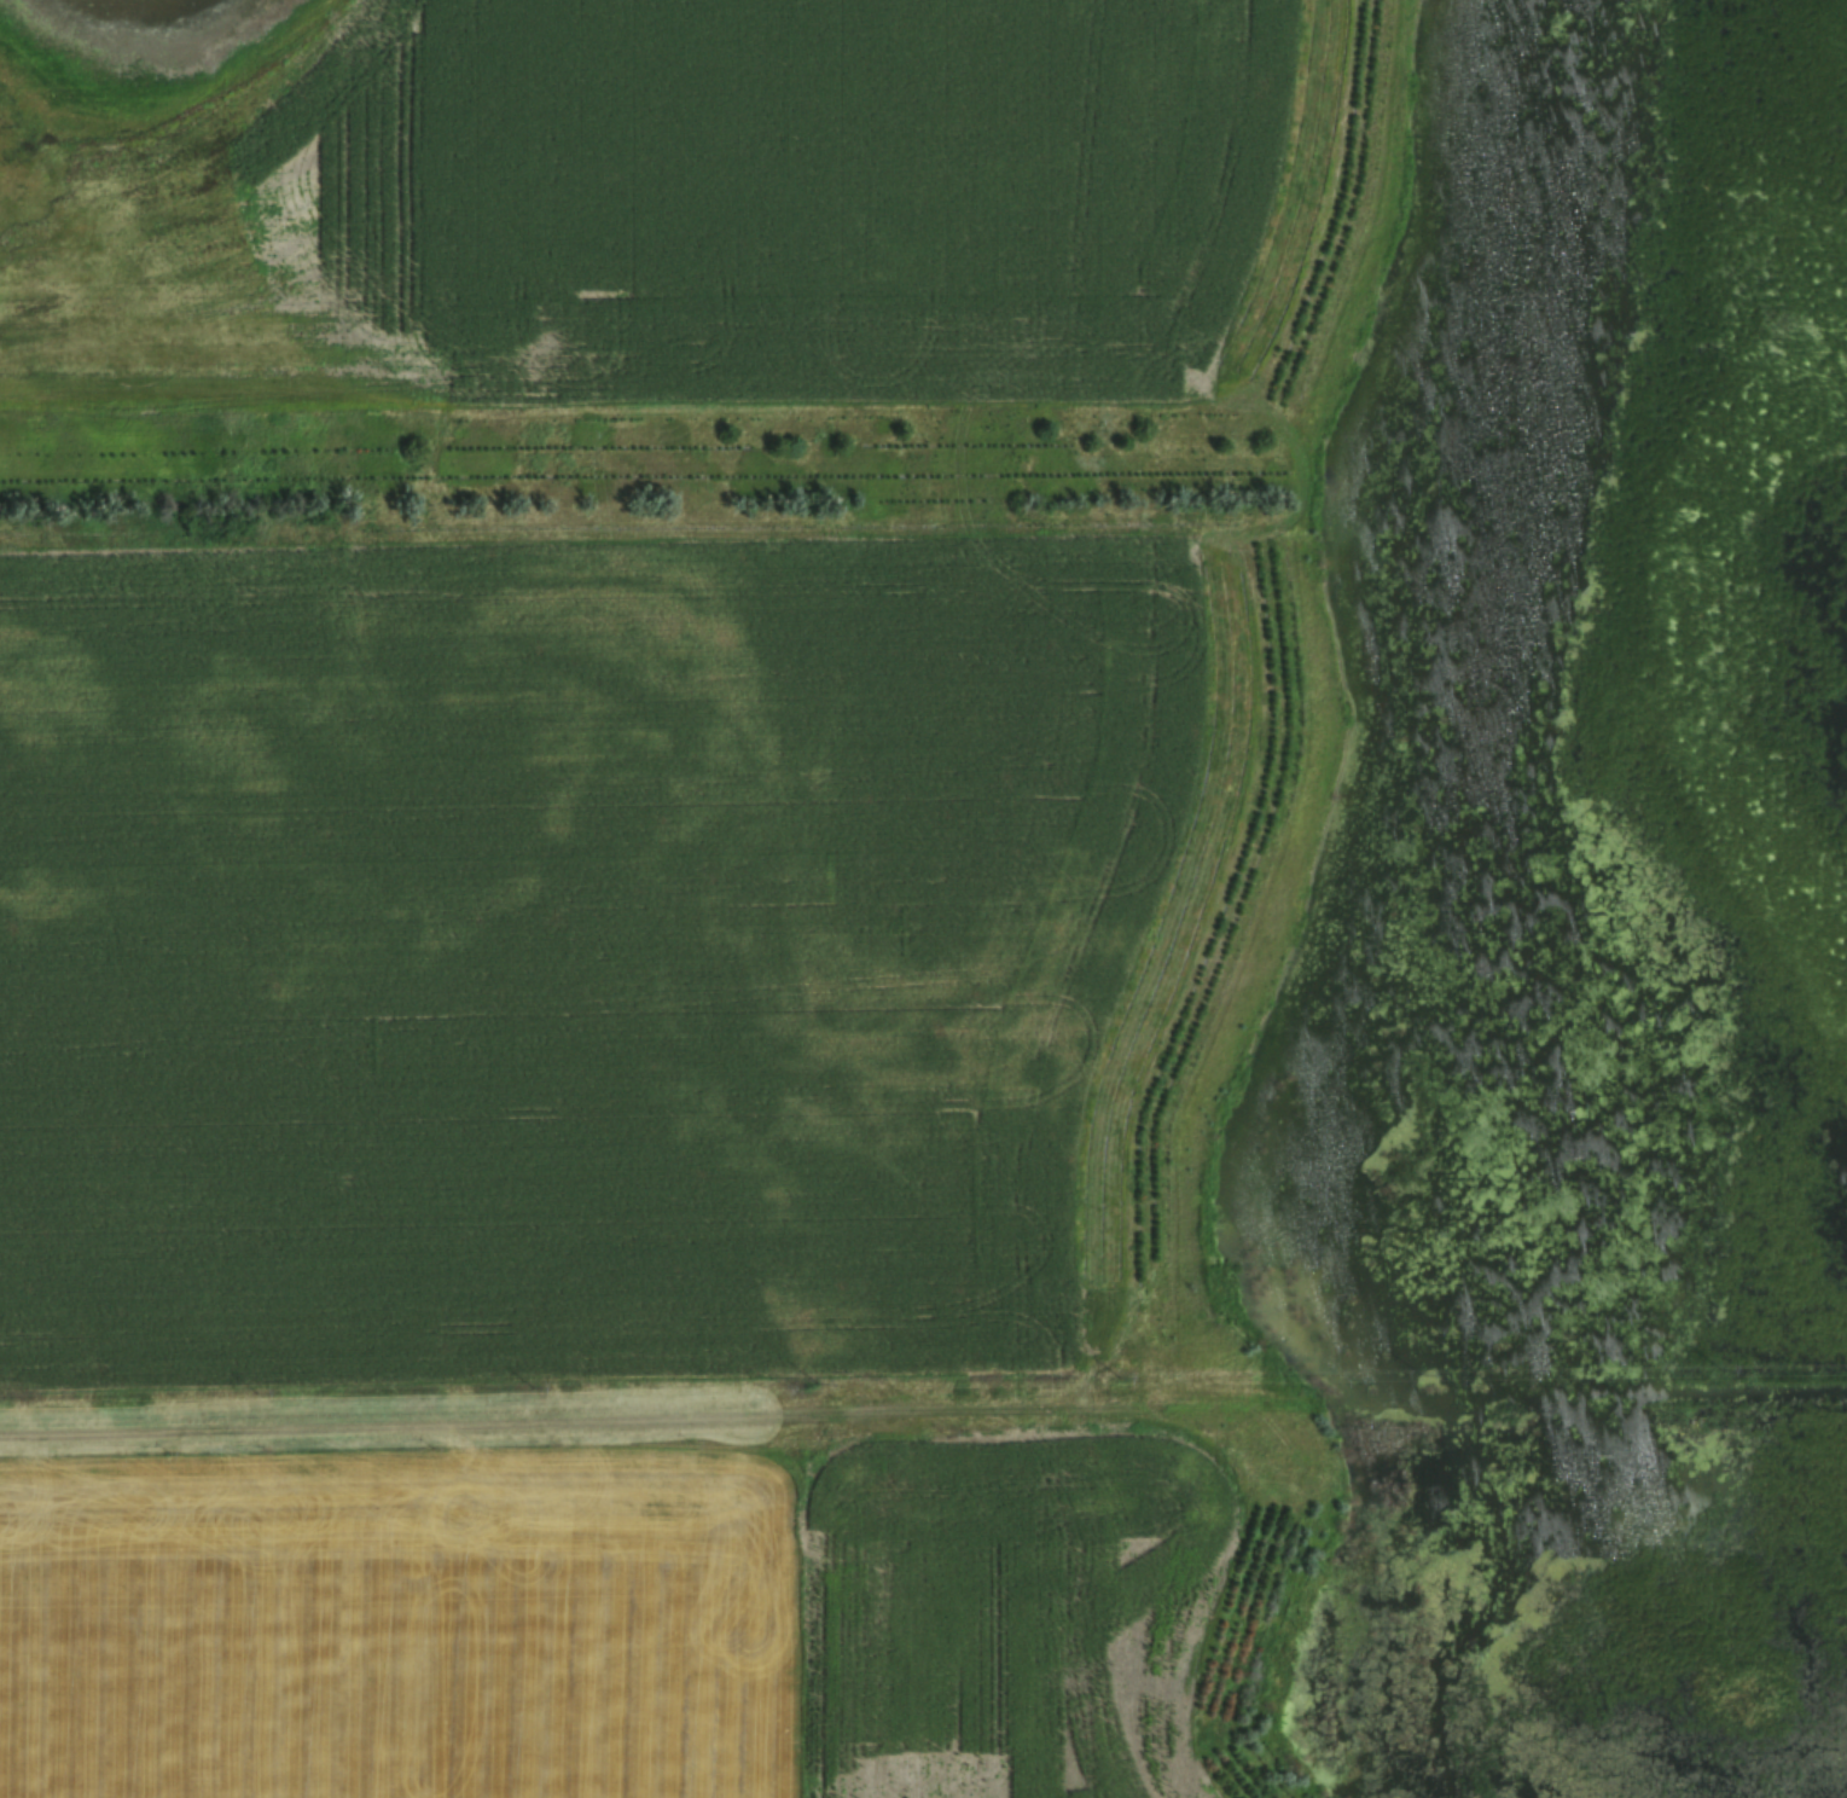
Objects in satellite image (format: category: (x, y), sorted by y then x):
road: (402, 1432)

